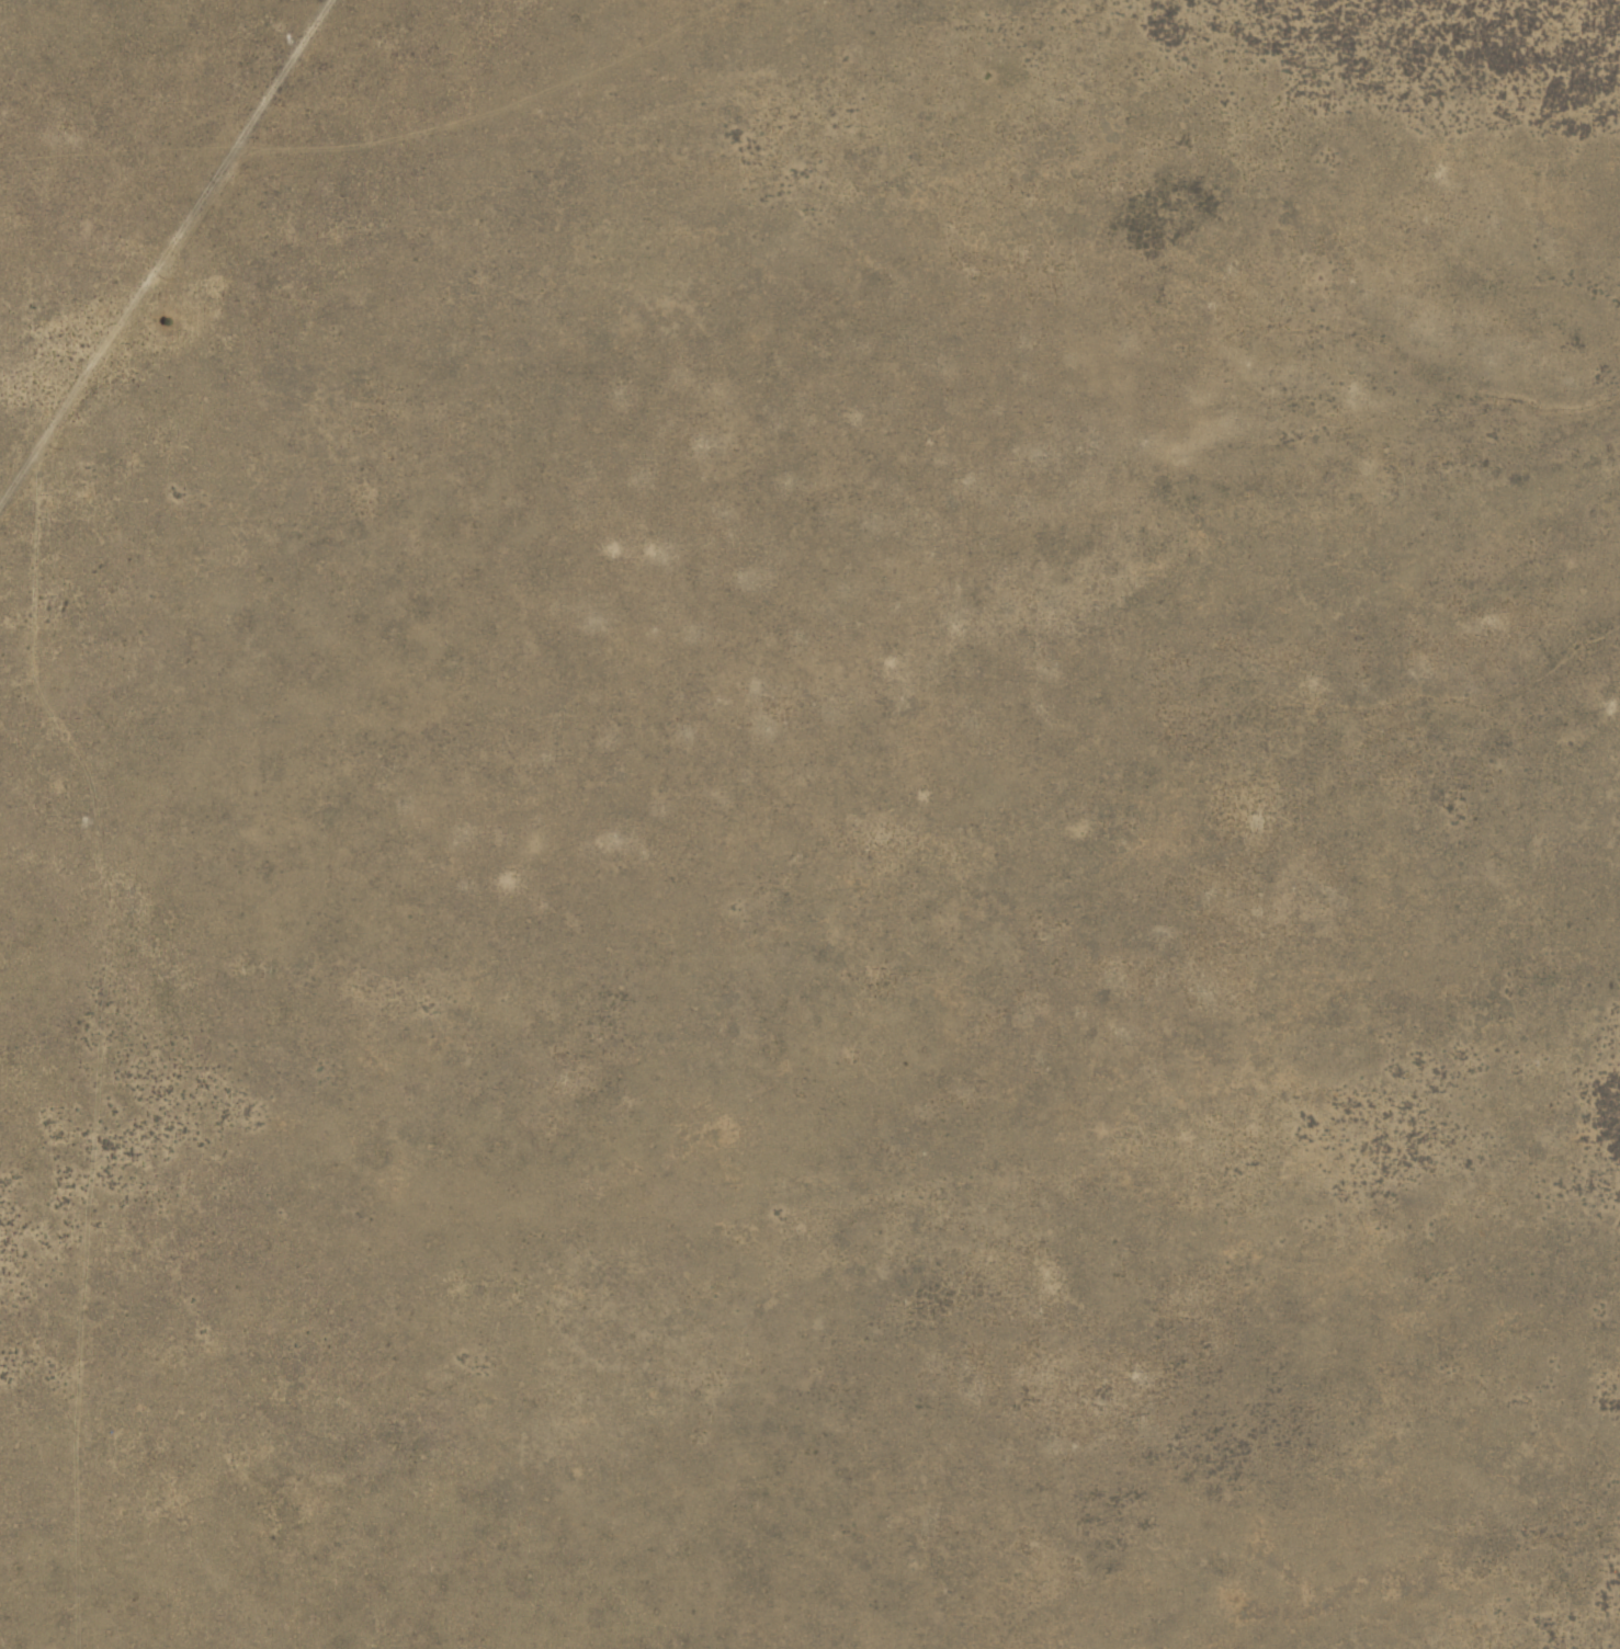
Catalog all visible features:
road: (163, 251)

